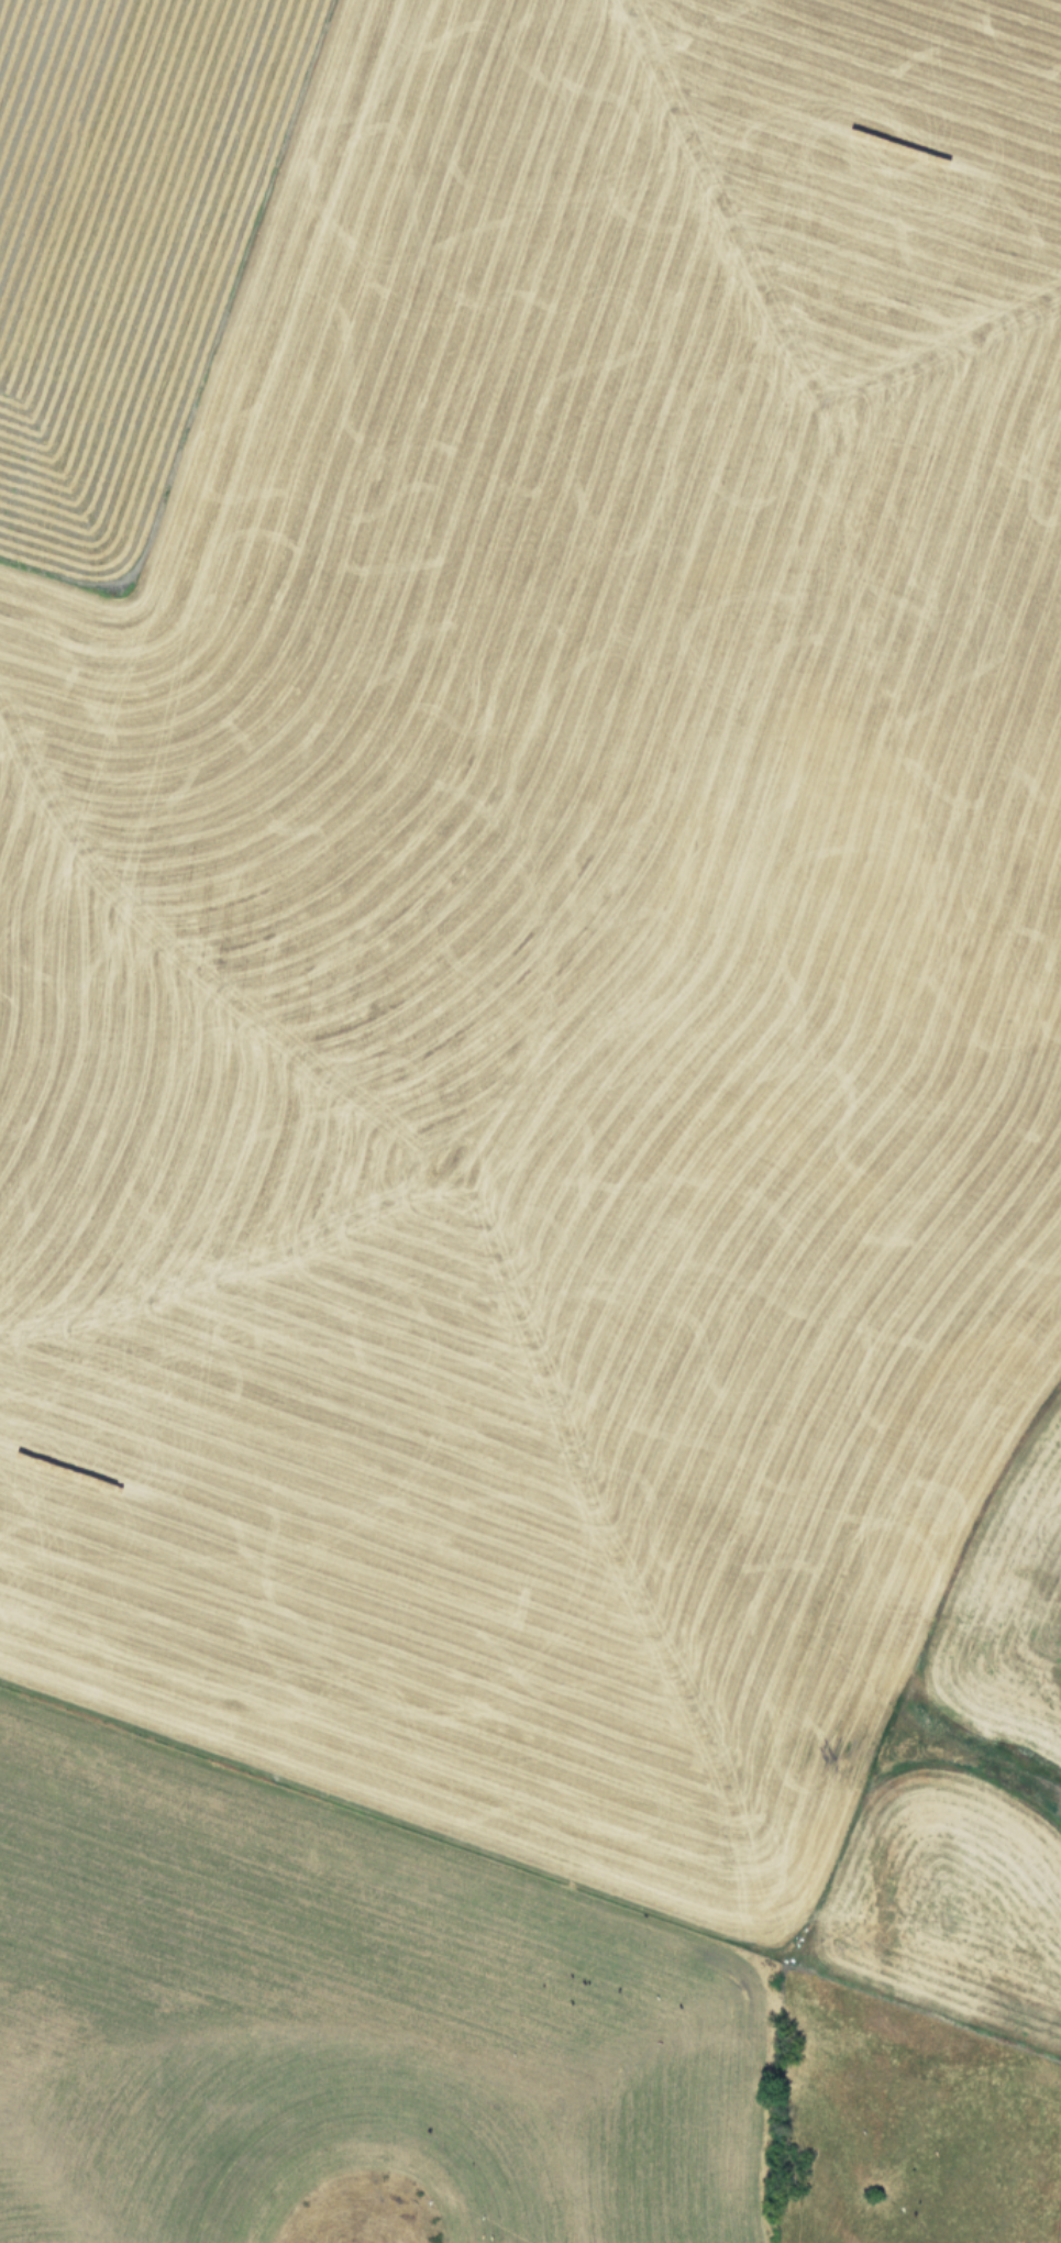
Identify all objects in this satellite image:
crop: (530, 1121)

